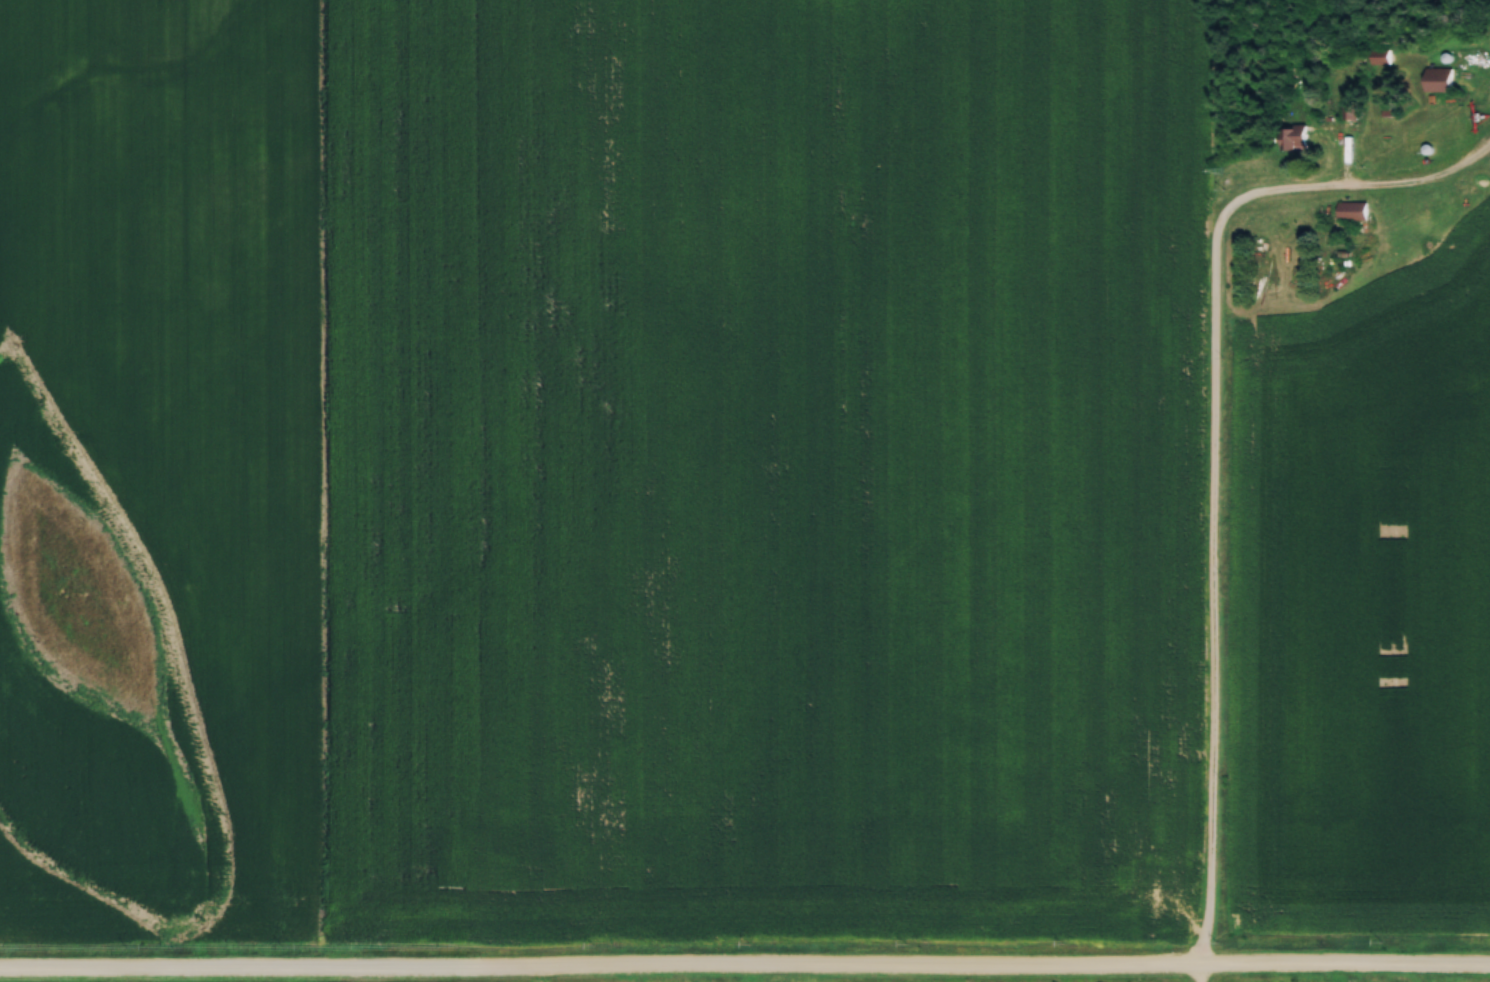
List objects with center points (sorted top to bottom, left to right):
building: (1296, 136)
building: (1352, 209)
road: (1219, 509)
road: (745, 972)
road: (1207, 975)

